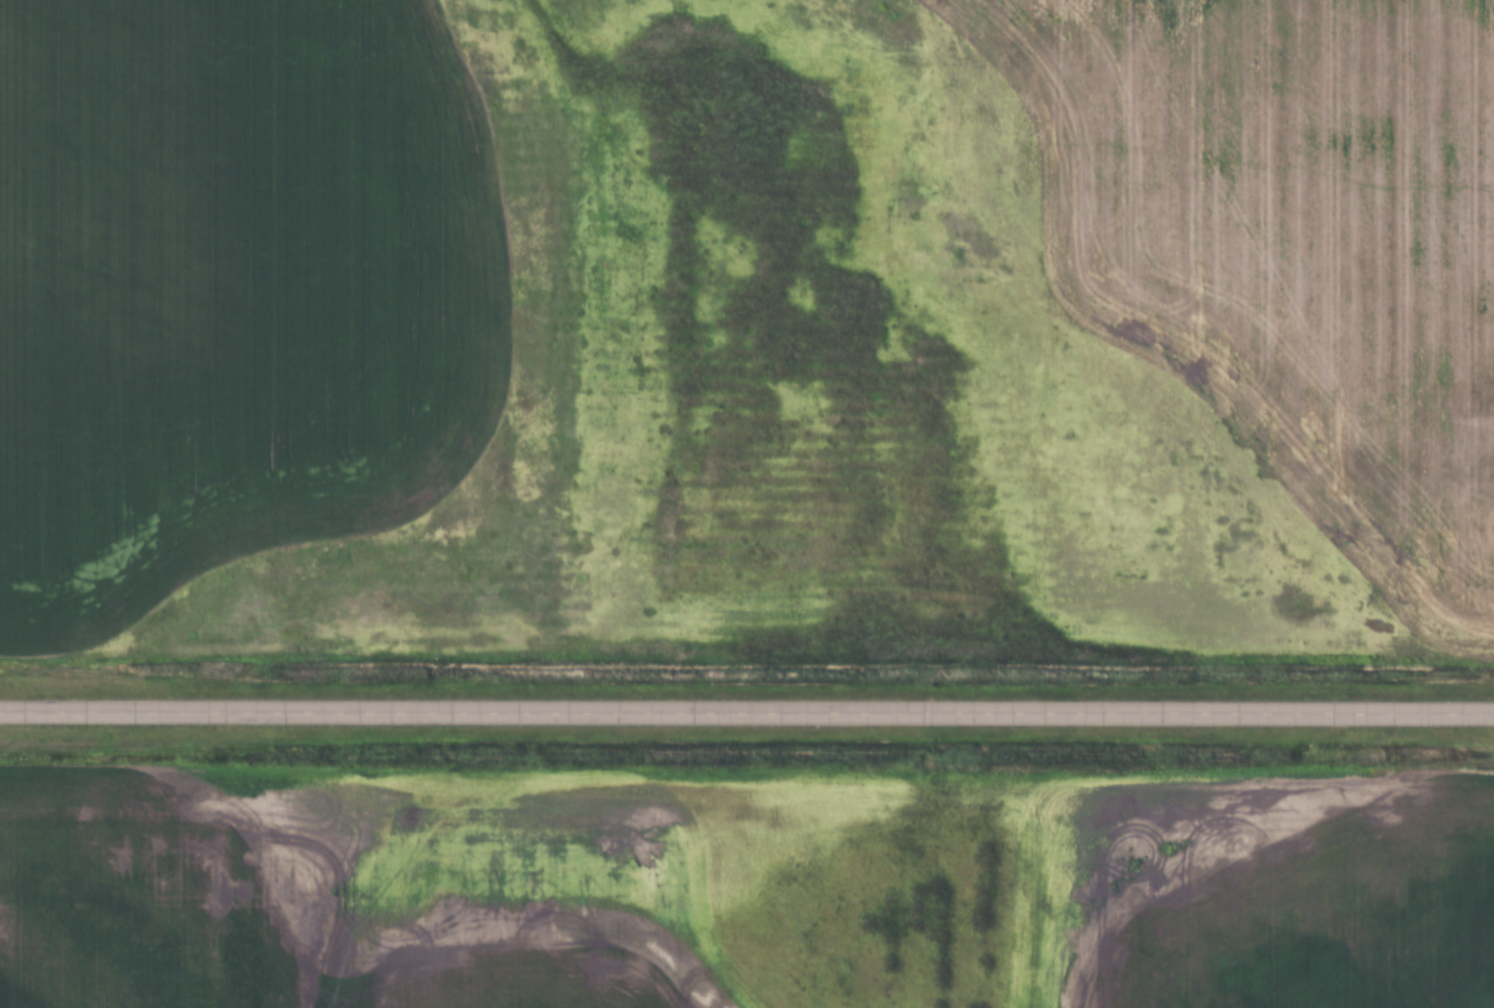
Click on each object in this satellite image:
road: (746, 707)

